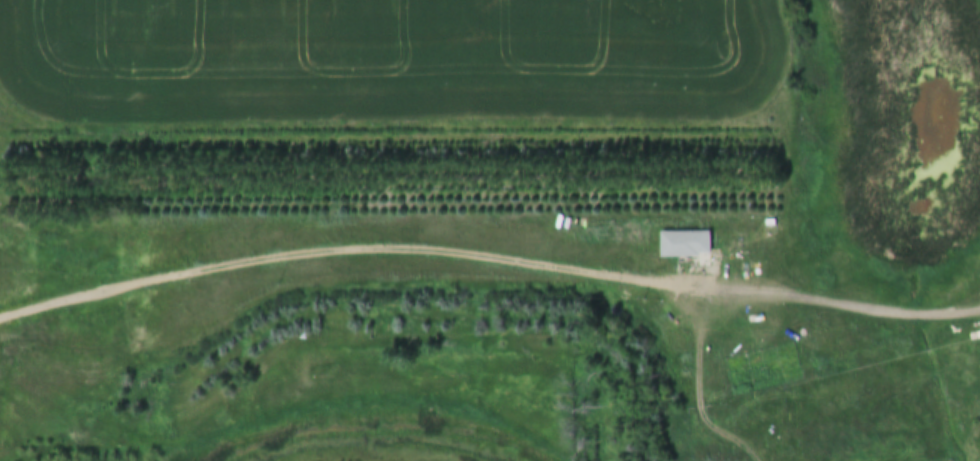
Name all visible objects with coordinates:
road: (488, 257)
building: (685, 365)
building: (841, 367)

